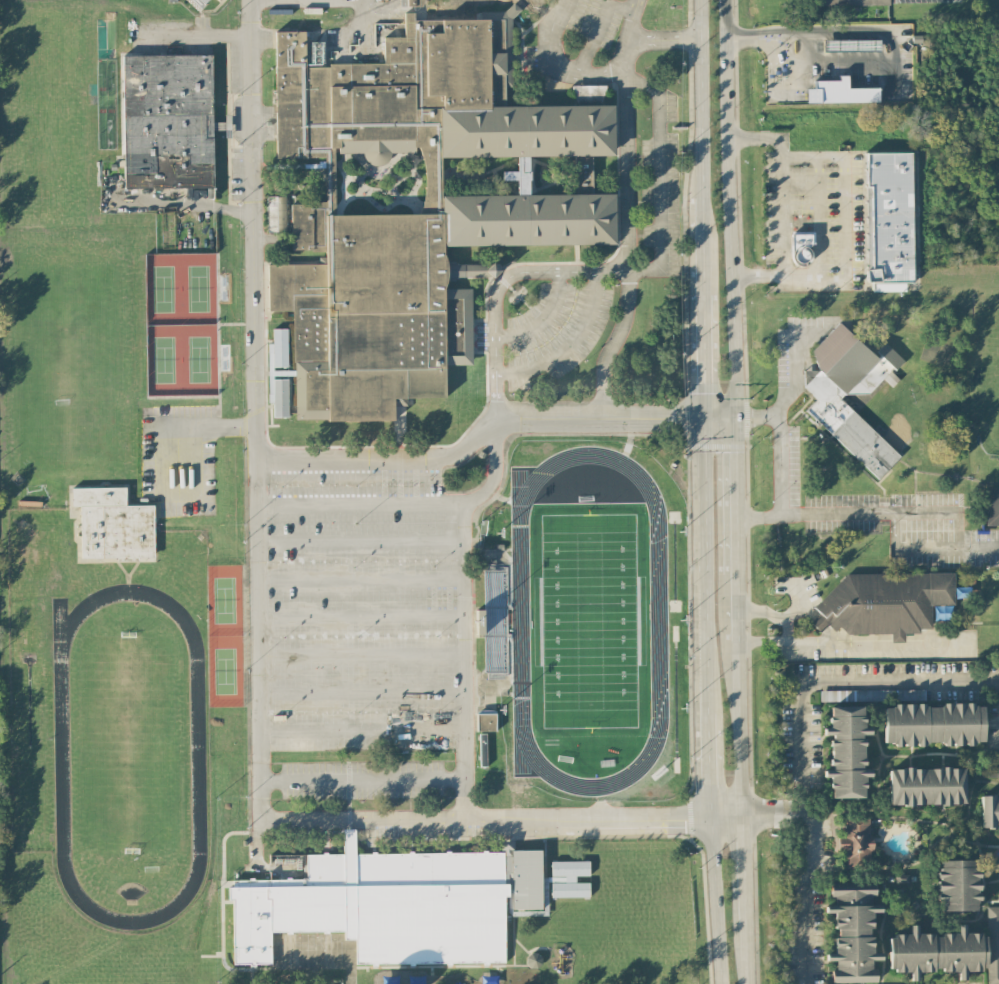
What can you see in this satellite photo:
building: (218, 0)
building: (200, 2)
building: (854, 2)
road: (358, 28)
road: (877, 29)
road: (647, 37)
road: (626, 52)
road: (557, 61)
road: (700, 84)
building: (840, 91)
road: (105, 110)
building: (167, 120)
road: (659, 156)
road: (699, 199)
building: (415, 201)
road: (844, 204)
road: (729, 211)
building: (275, 213)
road: (780, 215)
building: (889, 219)
road: (627, 245)
building: (802, 246)
road: (644, 266)
road: (498, 285)
road: (542, 317)
road: (701, 326)
road: (569, 344)
park: (61, 360)
traffic signals: (704, 391)
building: (846, 392)
building: (280, 397)
road: (251, 409)
road: (758, 415)
traffic signals: (752, 418)
traffic signals: (678, 422)
road: (781, 424)
road: (163, 425)
road: (488, 425)
road: (227, 427)
road: (704, 437)
traffic signals: (736, 451)
road: (736, 483)
road: (356, 502)
road: (704, 503)
building: (991, 505)
road: (843, 514)
building: (113, 523)
road: (356, 539)
road: (960, 545)
road: (736, 557)
road: (355, 575)
building: (884, 602)
road: (737, 605)
road: (462, 609)
road: (356, 616)
track: (520, 618)
park: (589, 618)
building: (493, 620)
road: (786, 627)
road: (705, 630)
parking lot: (357, 636)
road: (879, 641)
road: (357, 653)
road: (848, 680)
road: (358, 692)
building: (486, 721)
building: (933, 723)
road: (739, 726)
road: (359, 729)
park: (126, 740)
building: (846, 751)
track: (61, 755)
road: (708, 759)
building: (992, 762)
road: (360, 780)
building: (926, 785)
road: (804, 800)
building: (989, 810)
road: (804, 812)
road: (499, 817)
building: (855, 841)
road: (253, 842)
road: (742, 852)
building: (568, 878)
building: (957, 884)
road: (714, 898)
building: (393, 903)
road: (744, 909)
building: (852, 931)
road: (802, 933)
building: (992, 943)
building: (936, 951)
road: (745, 954)
building: (533, 959)

